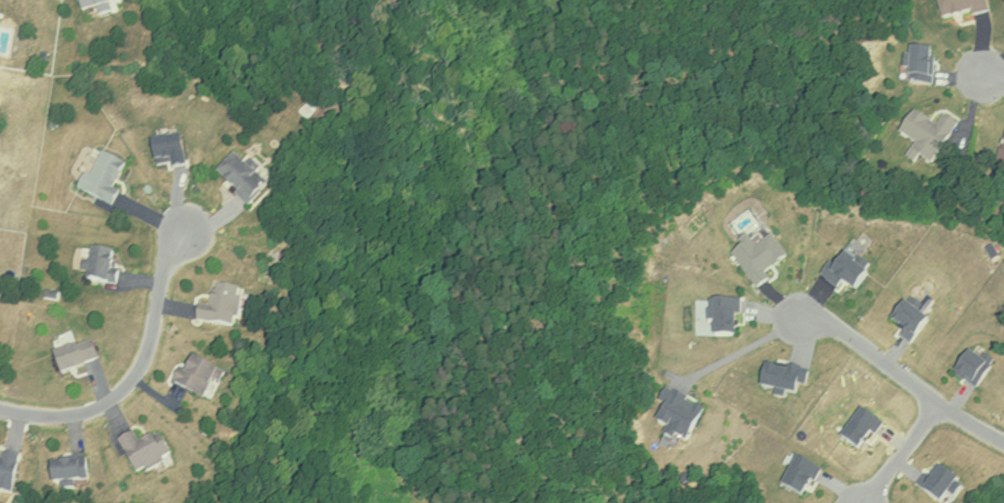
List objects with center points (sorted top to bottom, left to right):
road: (989, 77)
road: (743, 347)
road: (133, 372)
road: (902, 378)
road: (900, 455)

